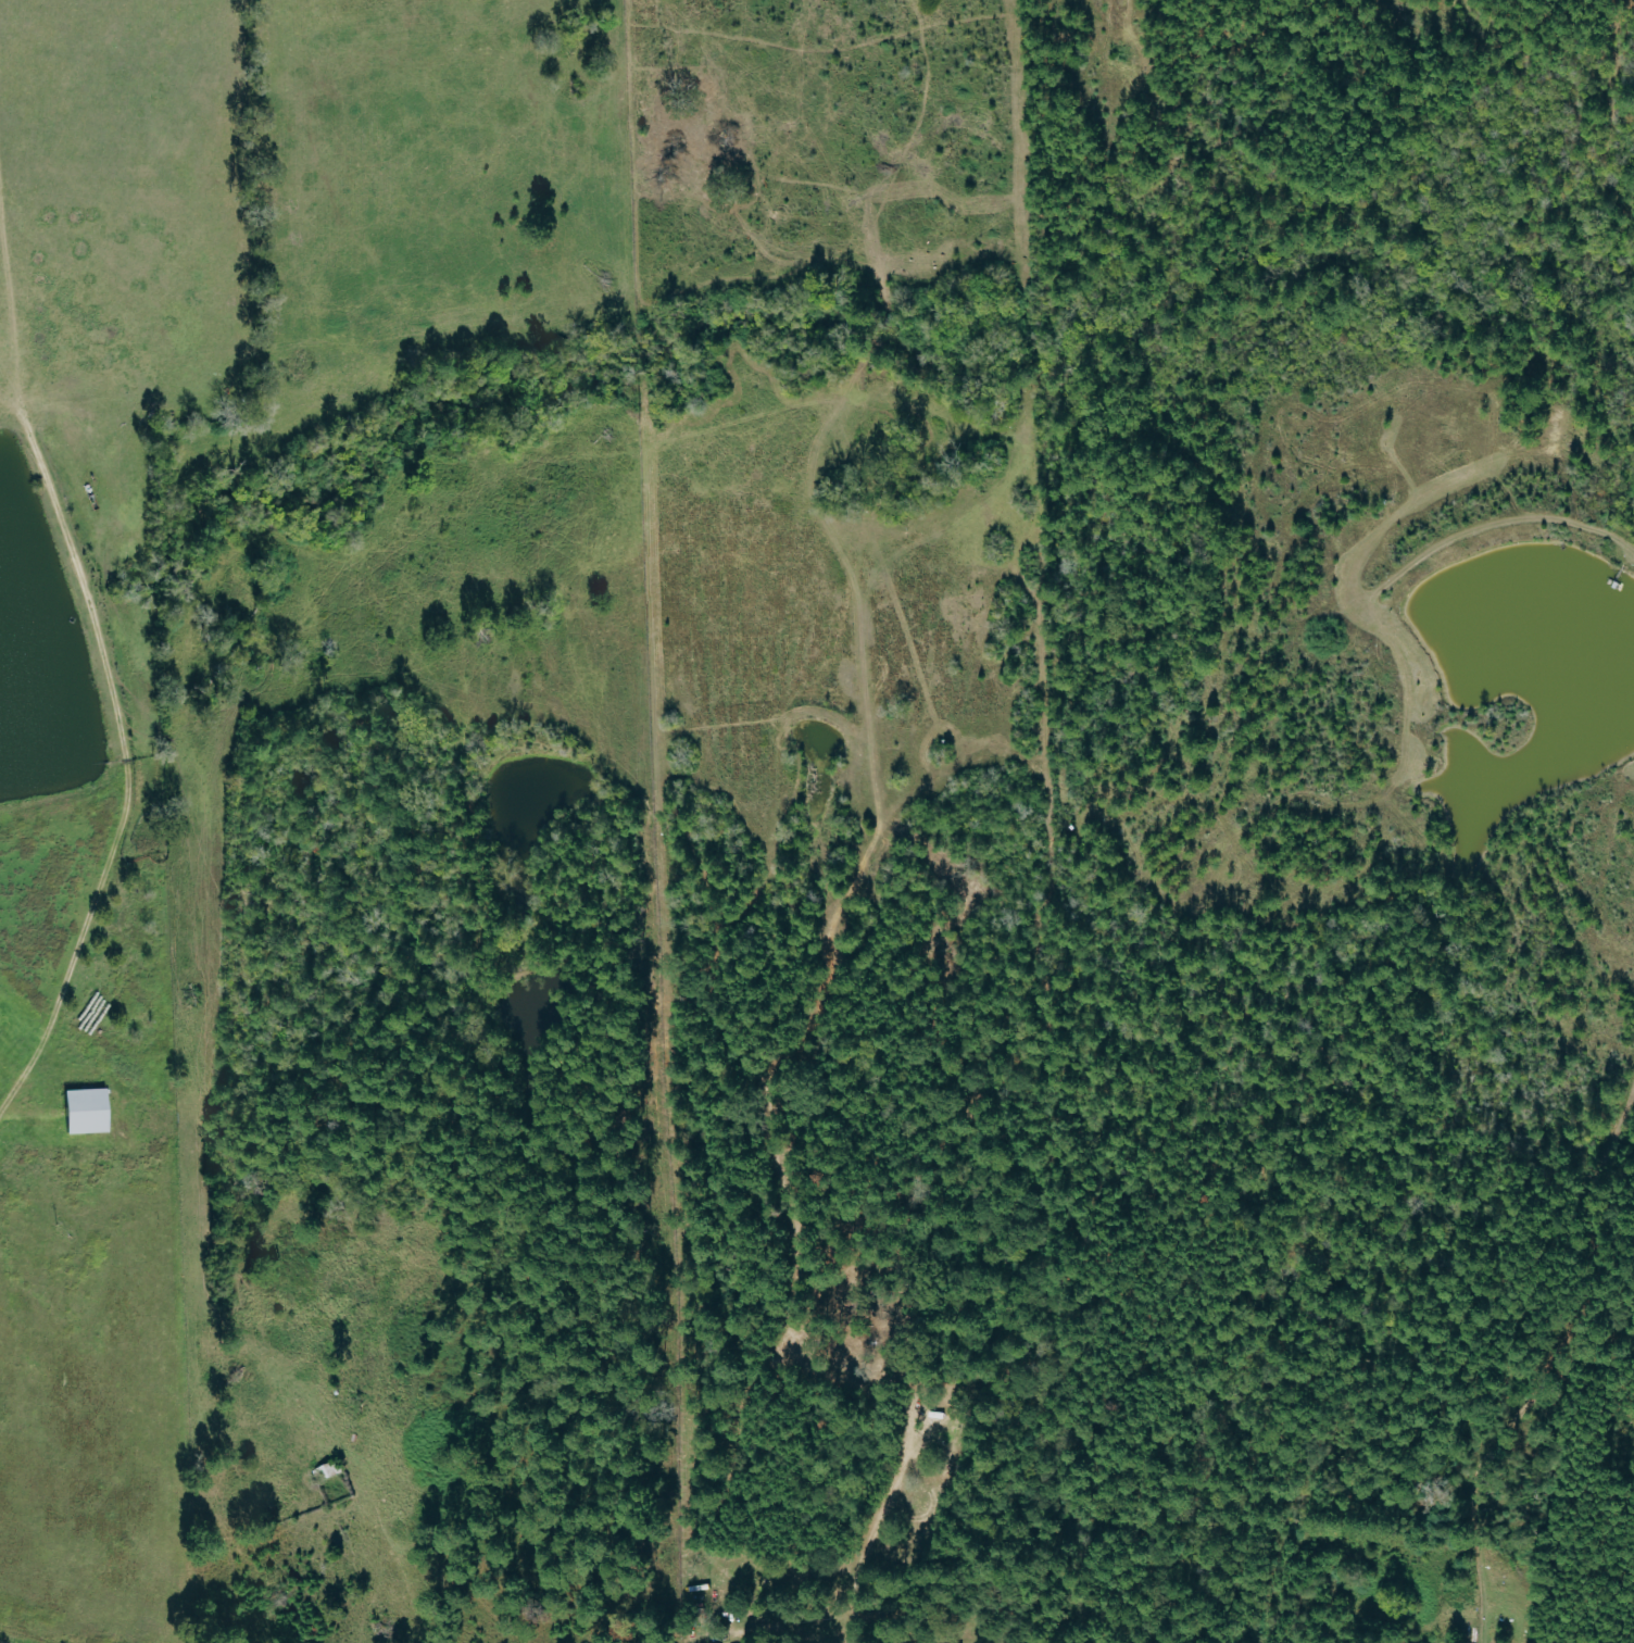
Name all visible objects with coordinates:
road: (38, 1052)
building: (87, 1111)

